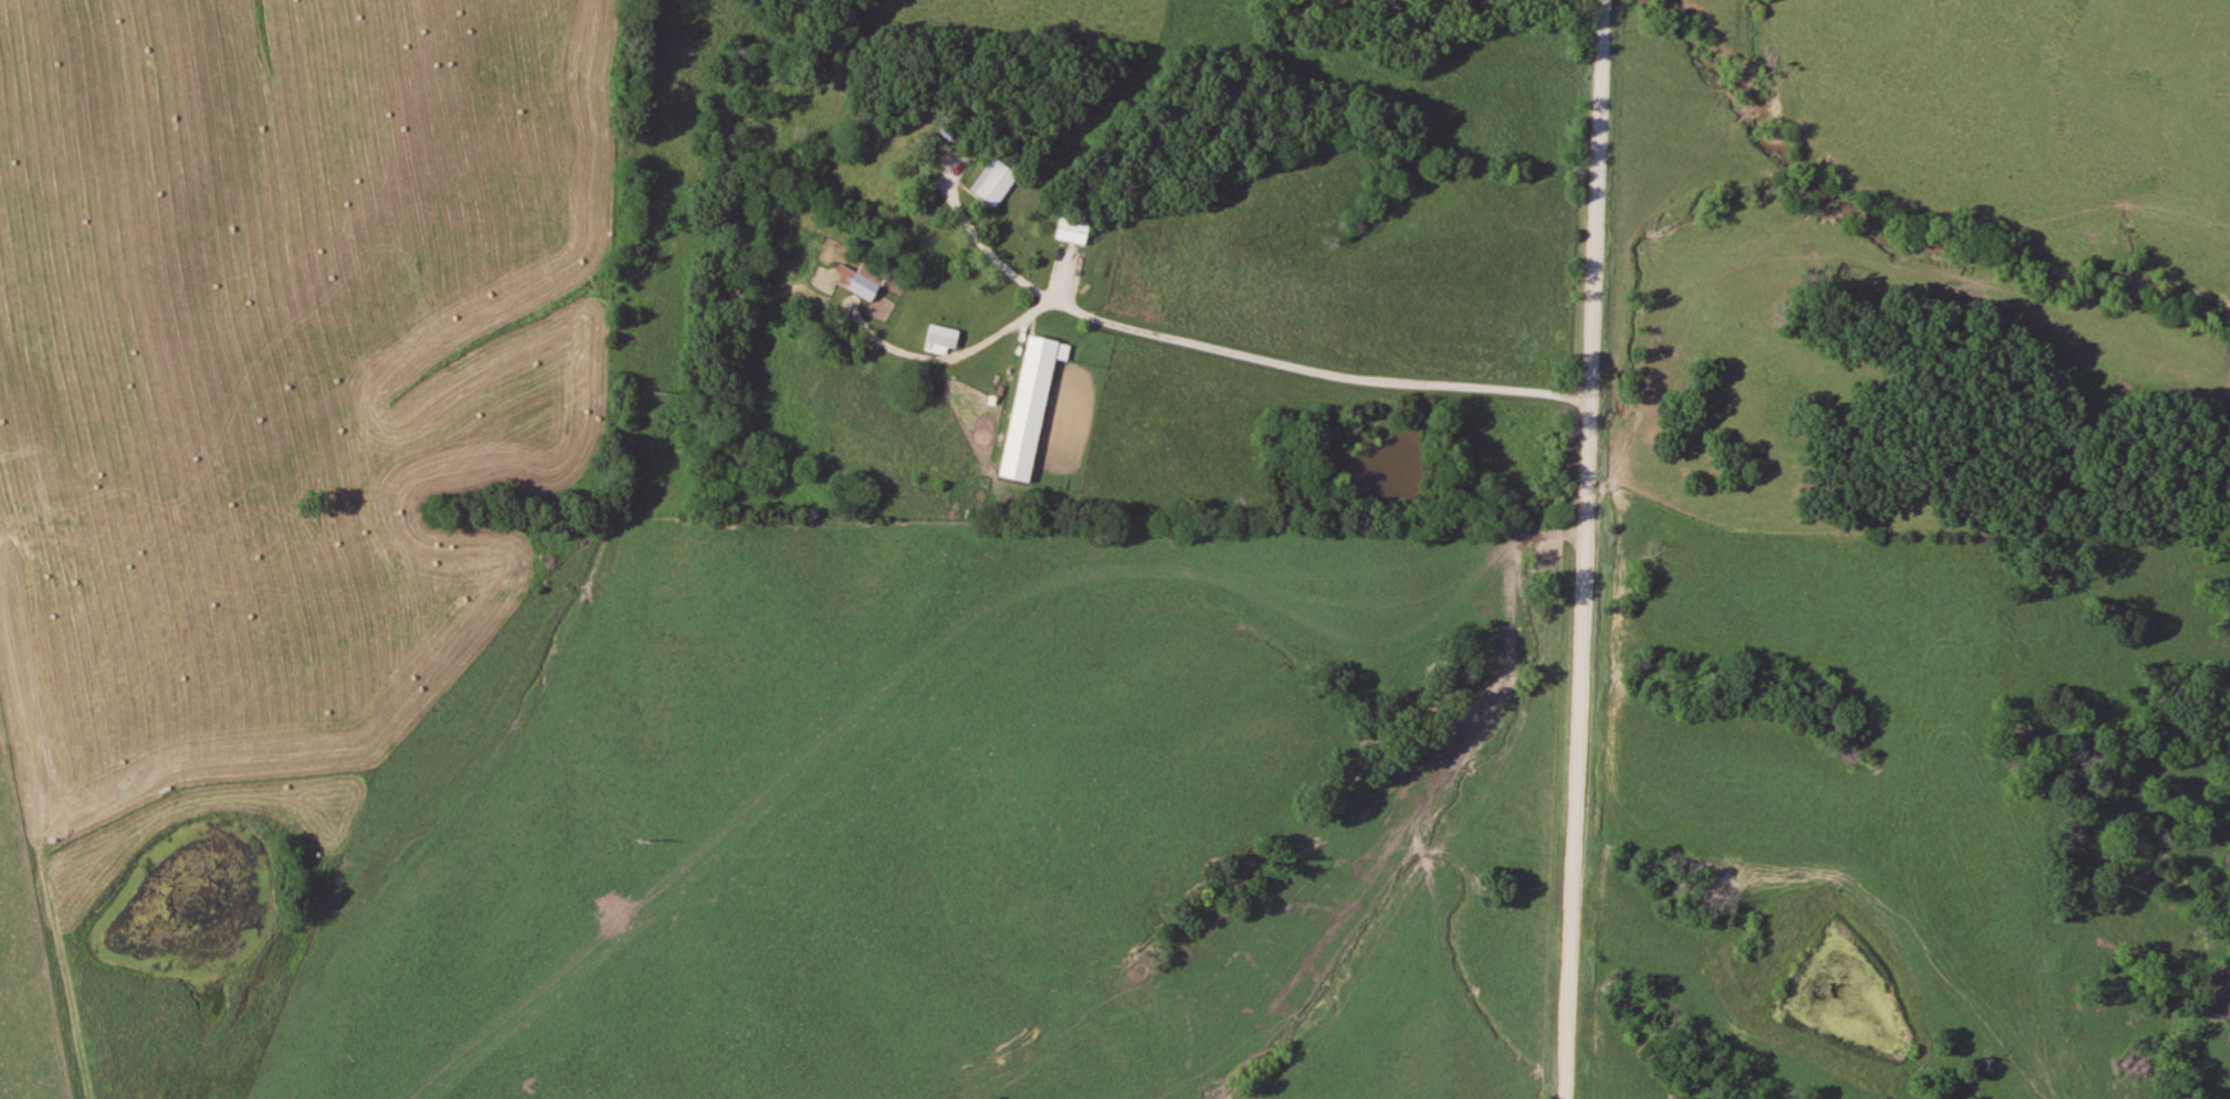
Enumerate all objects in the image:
building: (995, 181)
building: (1074, 230)
building: (863, 279)
building: (943, 339)
road: (1247, 356)
building: (1032, 405)
road: (1588, 549)

